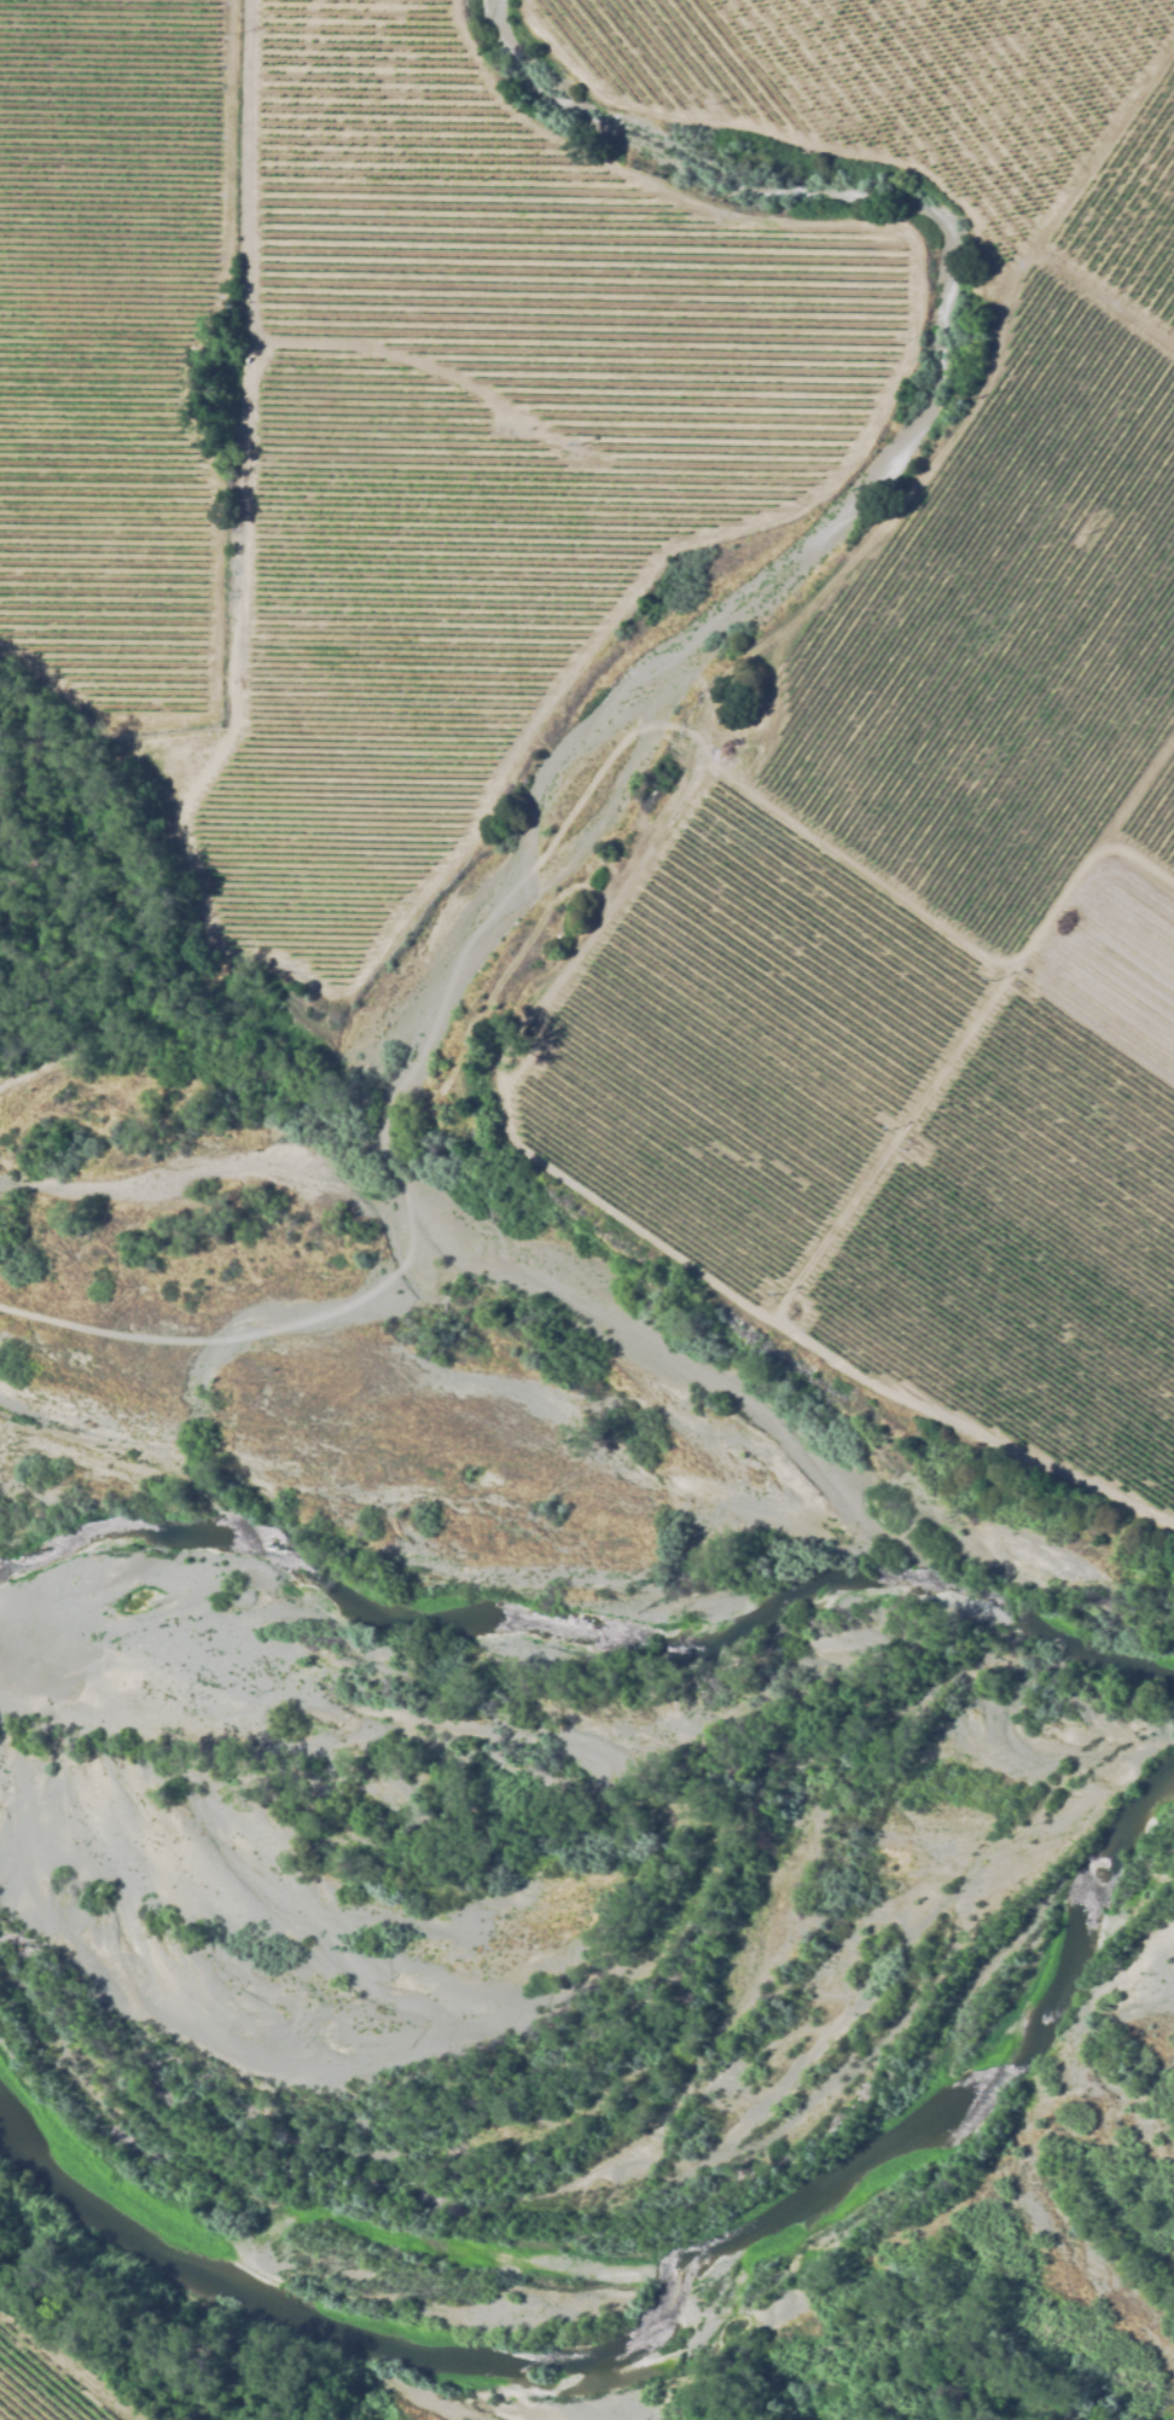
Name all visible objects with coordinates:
river: (618, 1946)

